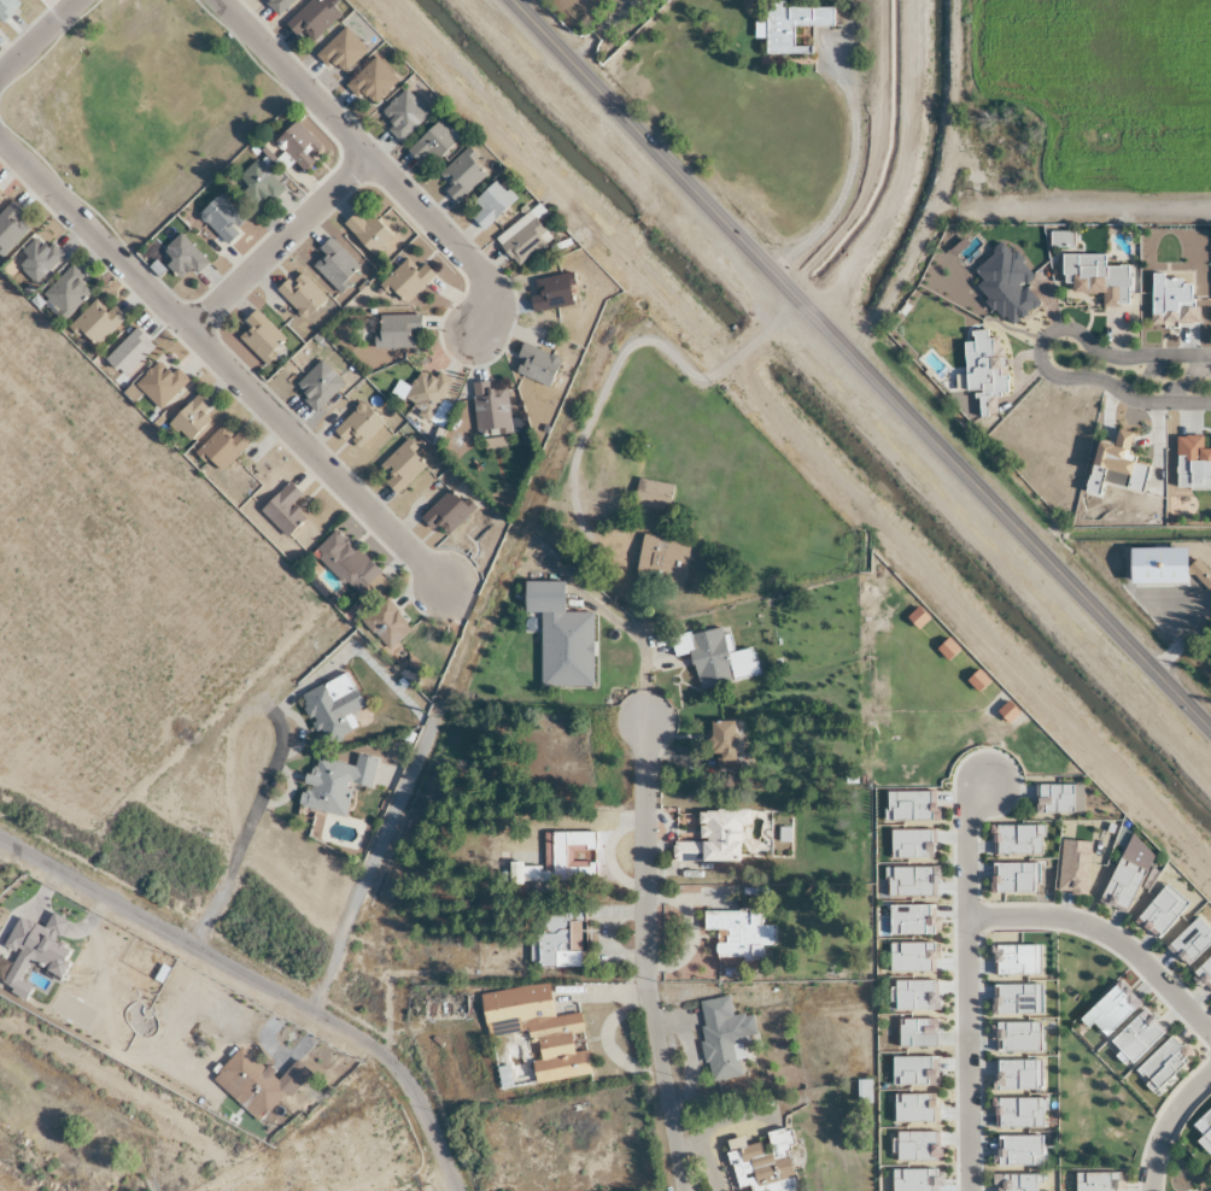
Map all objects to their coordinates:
building: (279, 5)
building: (6, 8)
building: (311, 19)
building: (785, 24)
road: (37, 35)
building: (340, 53)
building: (370, 82)
building: (402, 115)
building: (431, 143)
building: (298, 146)
building: (1008, 160)
road: (368, 163)
road: (842, 174)
building: (460, 176)
building: (972, 177)
building: (257, 183)
building: (0, 194)
building: (490, 205)
road: (1084, 210)
building: (220, 218)
building: (10, 228)
building: (365, 234)
building: (521, 240)
road: (275, 244)
building: (182, 258)
building: (35, 259)
building: (333, 265)
building: (405, 281)
building: (65, 293)
building: (551, 293)
building: (299, 295)
building: (94, 324)
building: (397, 332)
building: (257, 336)
building: (128, 353)
road: (620, 353)
road: (1035, 354)
road: (221, 362)
building: (534, 365)
road: (860, 365)
building: (159, 386)
building: (317, 386)
building: (425, 397)
building: (489, 411)
building: (189, 418)
building: (364, 434)
building: (221, 448)
building: (399, 468)
building: (650, 495)
building: (281, 510)
building: (445, 512)
building: (343, 562)
building: (660, 562)
building: (1199, 574)
building: (915, 617)
building: (385, 624)
building: (558, 638)
building: (946, 649)
building: (712, 657)
road: (451, 675)
building: (975, 680)
building: (332, 706)
building: (1006, 712)
building: (720, 740)
building: (333, 782)
road: (251, 833)
building: (712, 837)
building: (562, 858)
building: (737, 933)
building: (556, 935)
road: (1104, 937)
road: (642, 957)
road: (261, 982)
road: (964, 984)
building: (721, 1033)
building: (533, 1035)
building: (251, 1085)
building: (861, 1090)
road: (1165, 1123)
building: (762, 1164)
road: (438, 1186)

